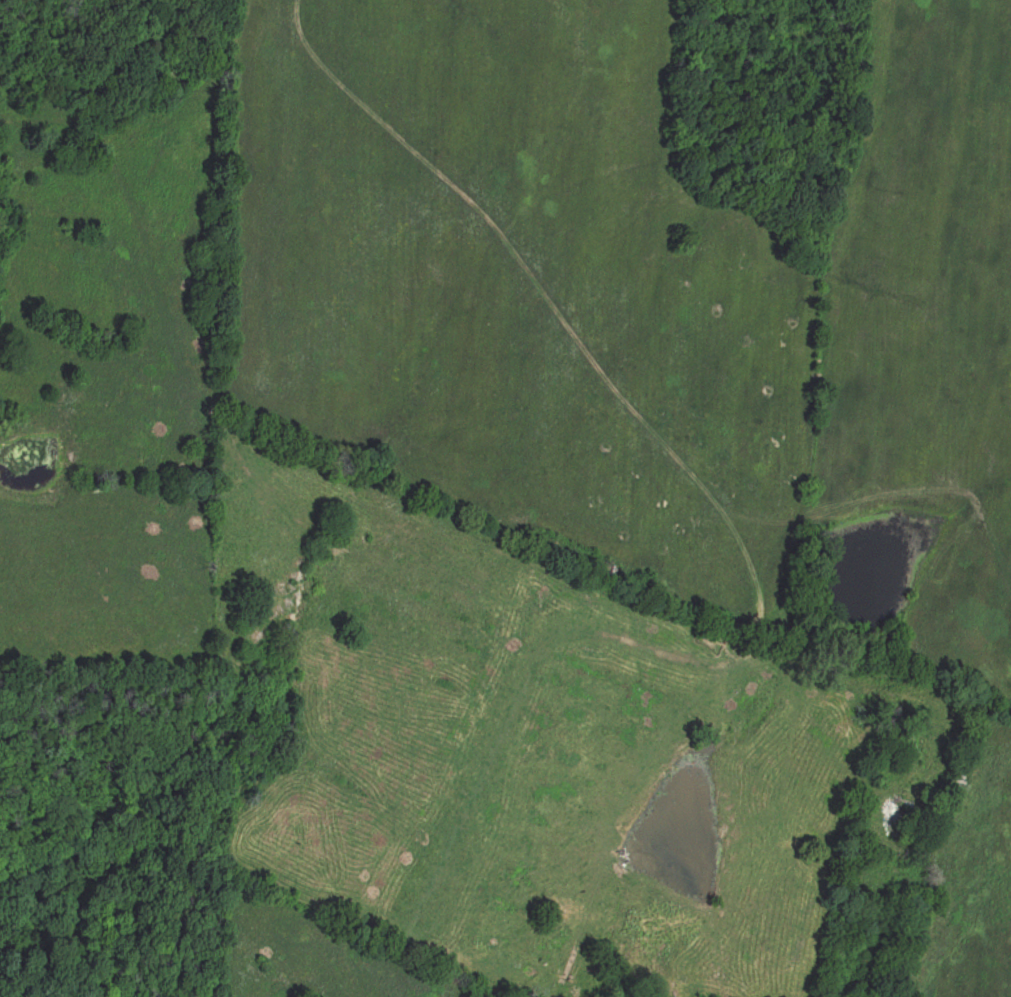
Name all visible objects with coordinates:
building: (898, 812)

